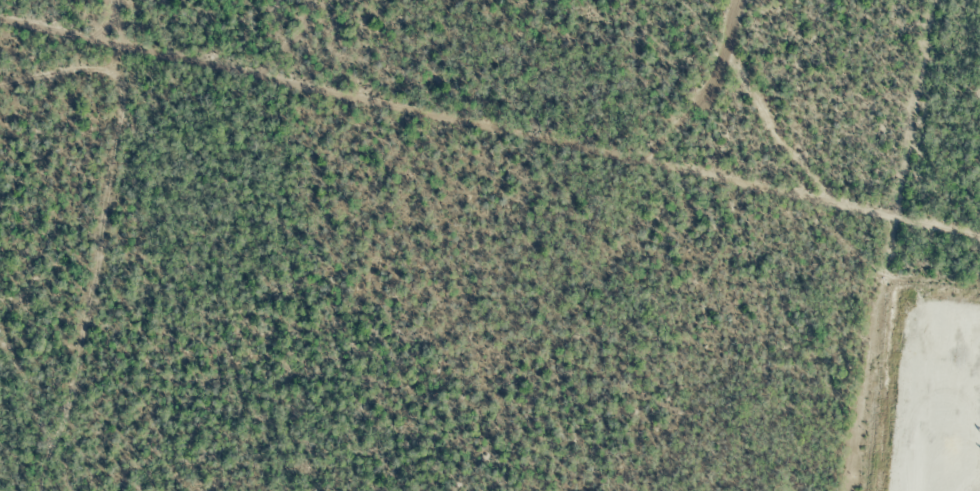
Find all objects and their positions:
road: (898, 490)

